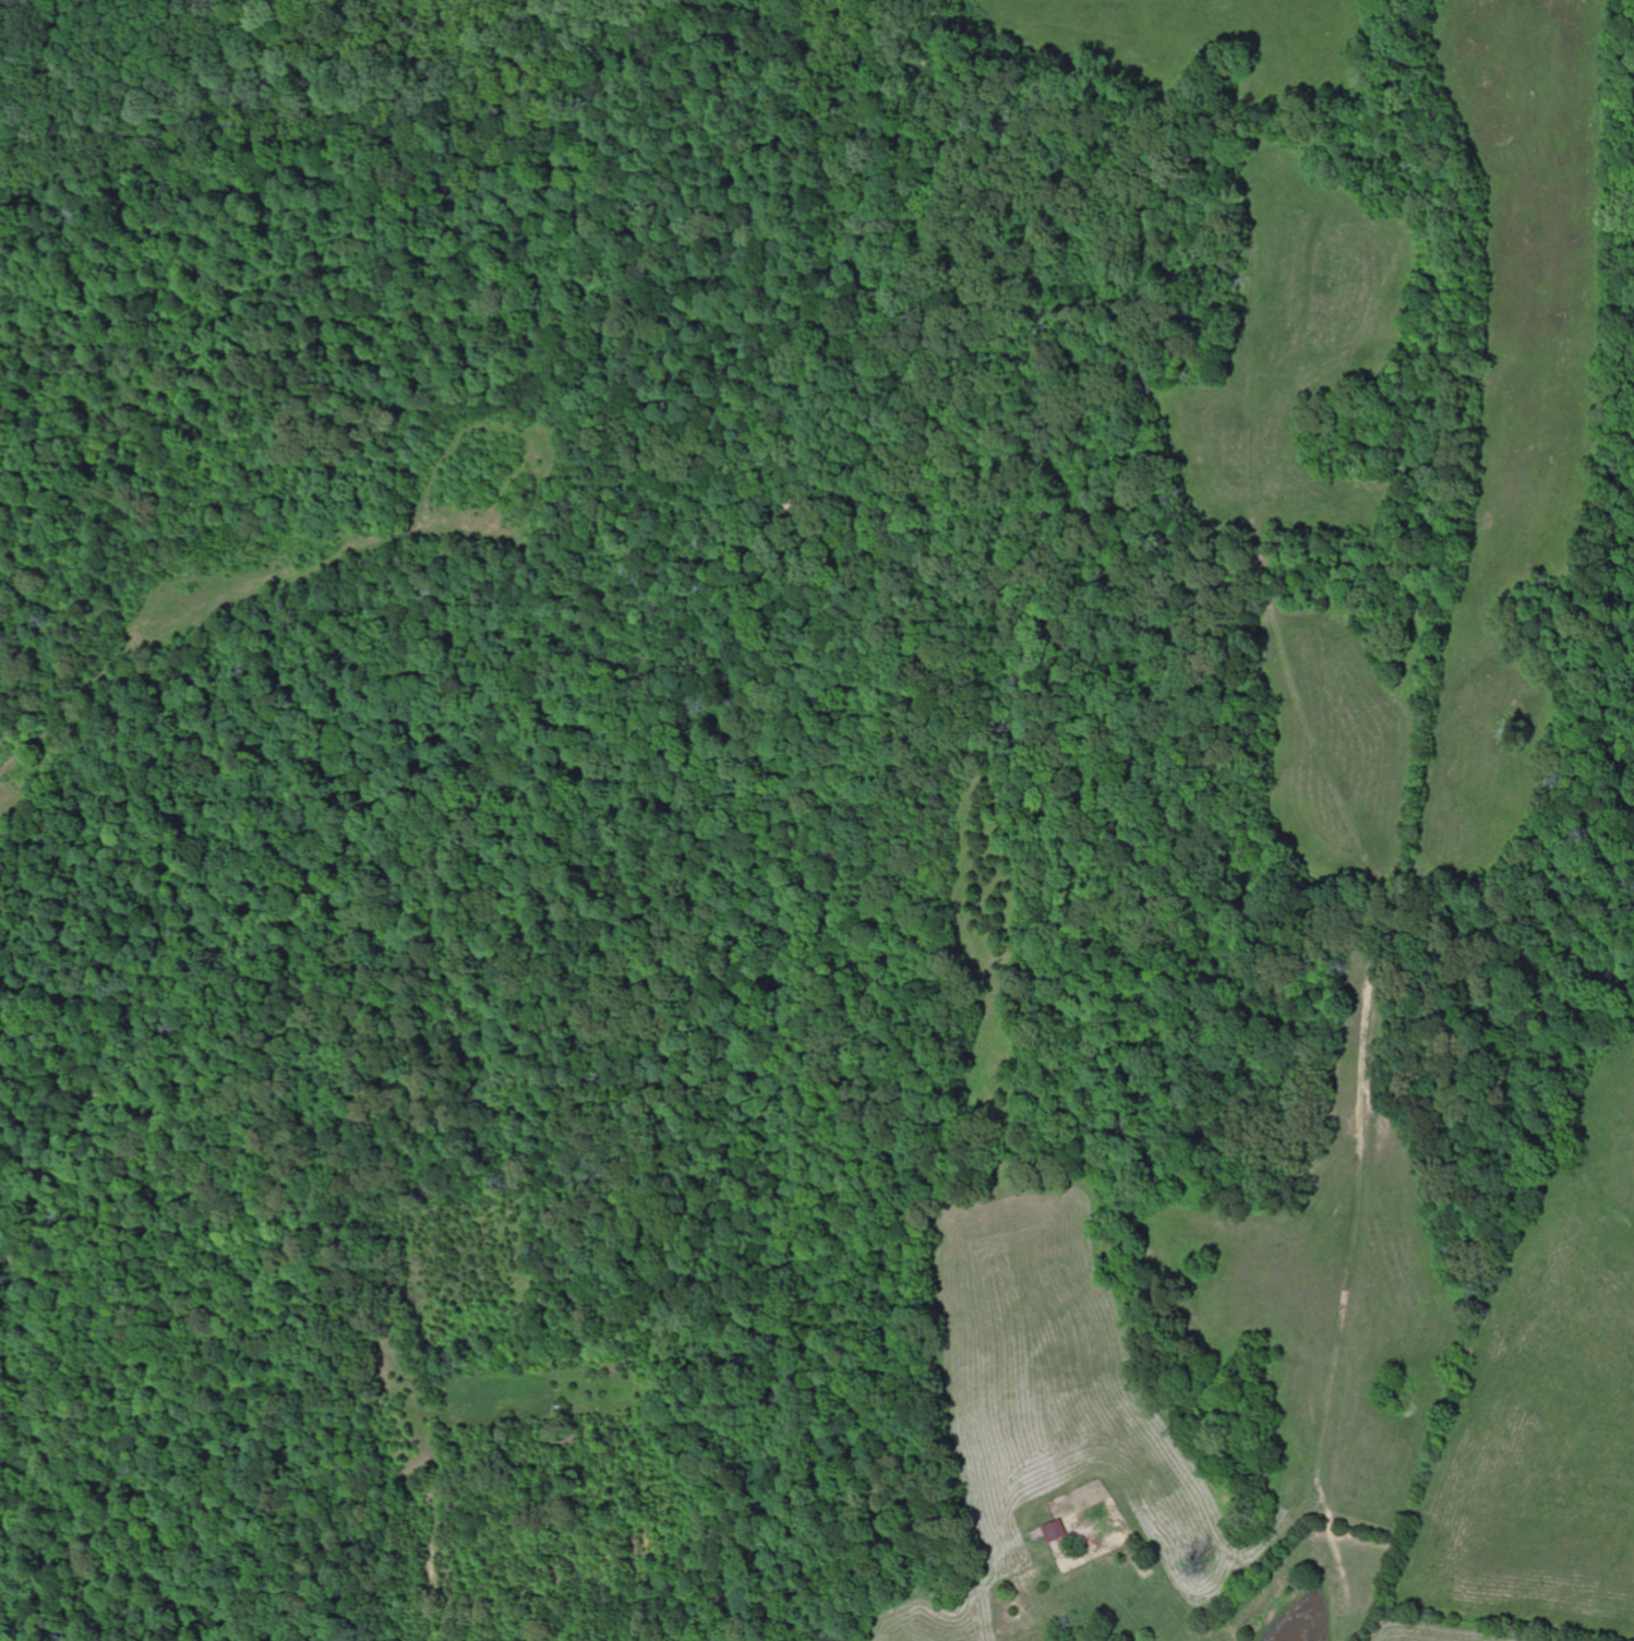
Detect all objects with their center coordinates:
building: (1058, 1533)

